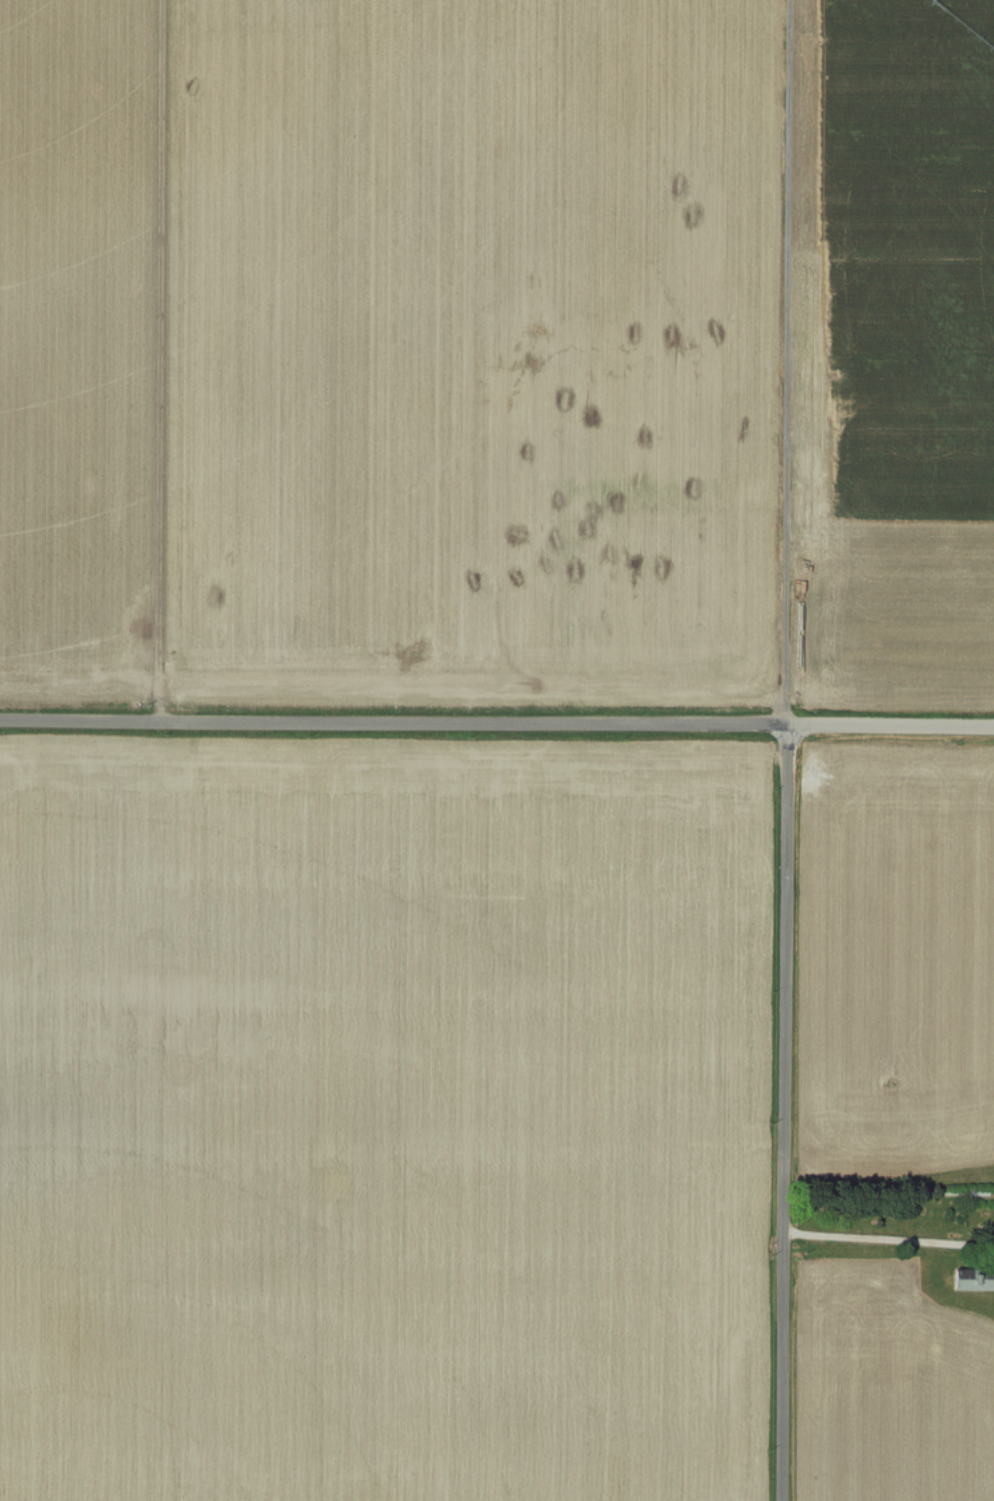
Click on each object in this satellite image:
road: (160, 359)
road: (393, 720)
road: (890, 724)
road: (782, 1112)
road: (885, 1237)
building: (972, 1278)

